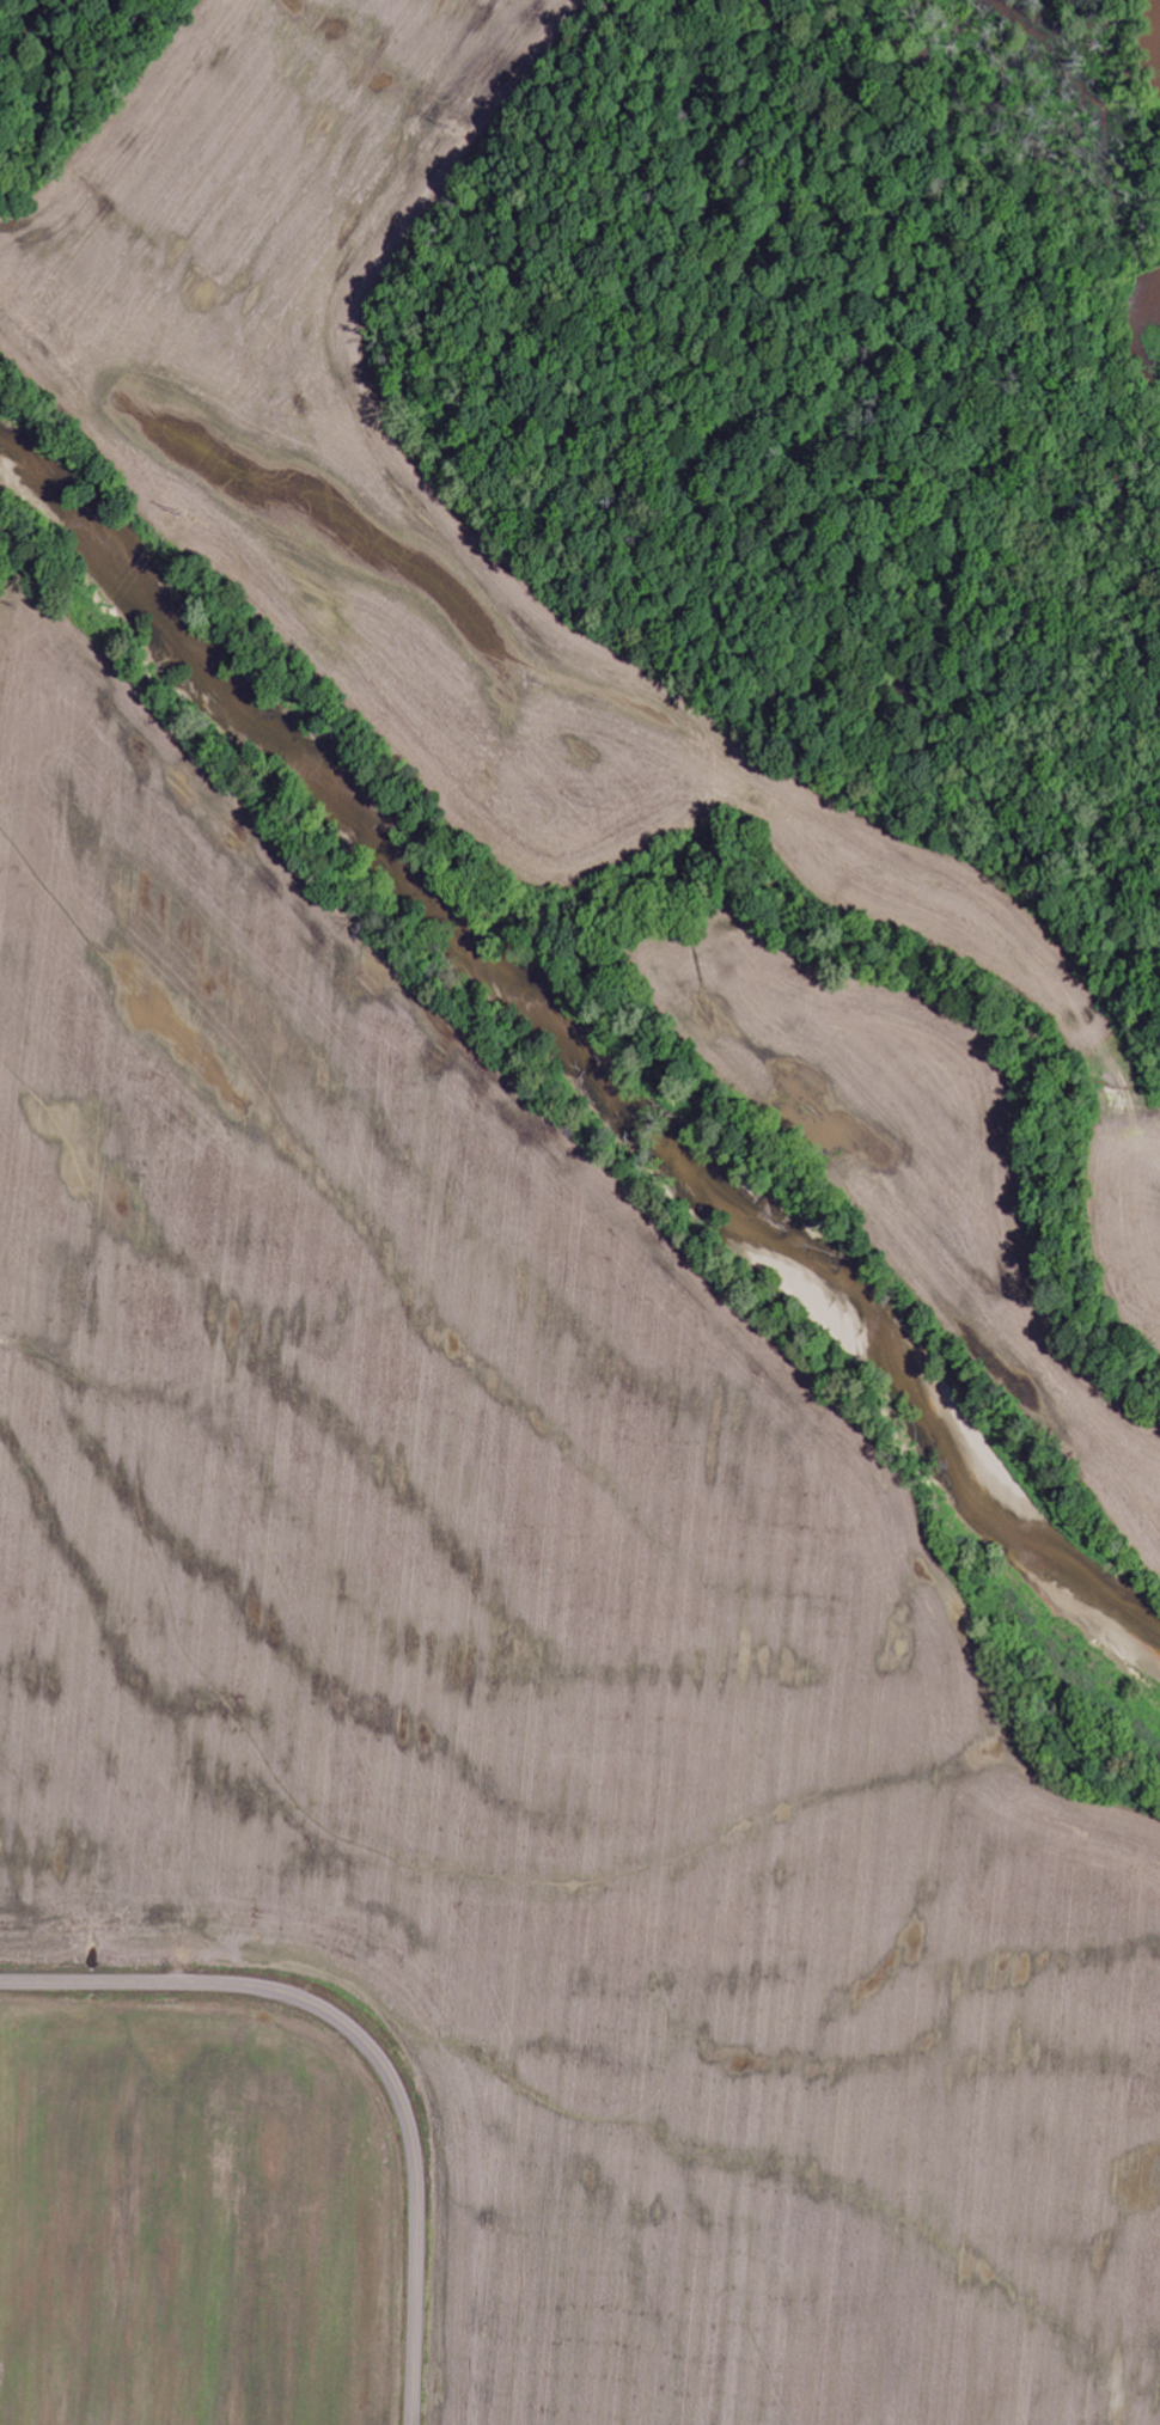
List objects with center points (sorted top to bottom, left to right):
power tower: (469, 132)
power tower: (193, 514)
river: (578, 1059)
road: (368, 2050)

